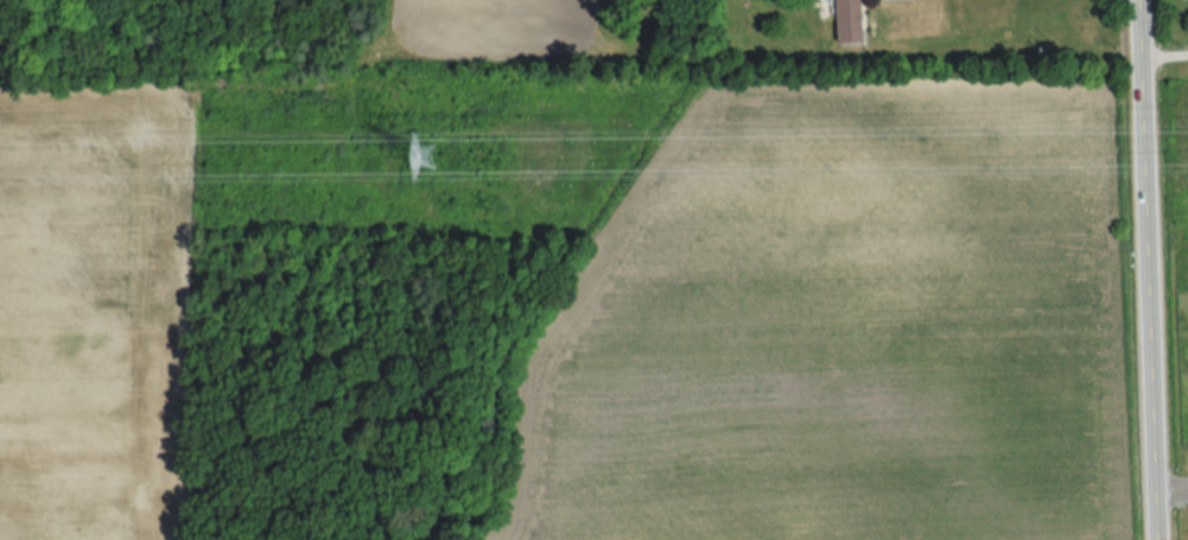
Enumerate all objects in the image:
road: (1163, 58)
power tower: (424, 160)
road: (1146, 269)
crop: (93, 310)
crop: (841, 328)
road: (1171, 489)

